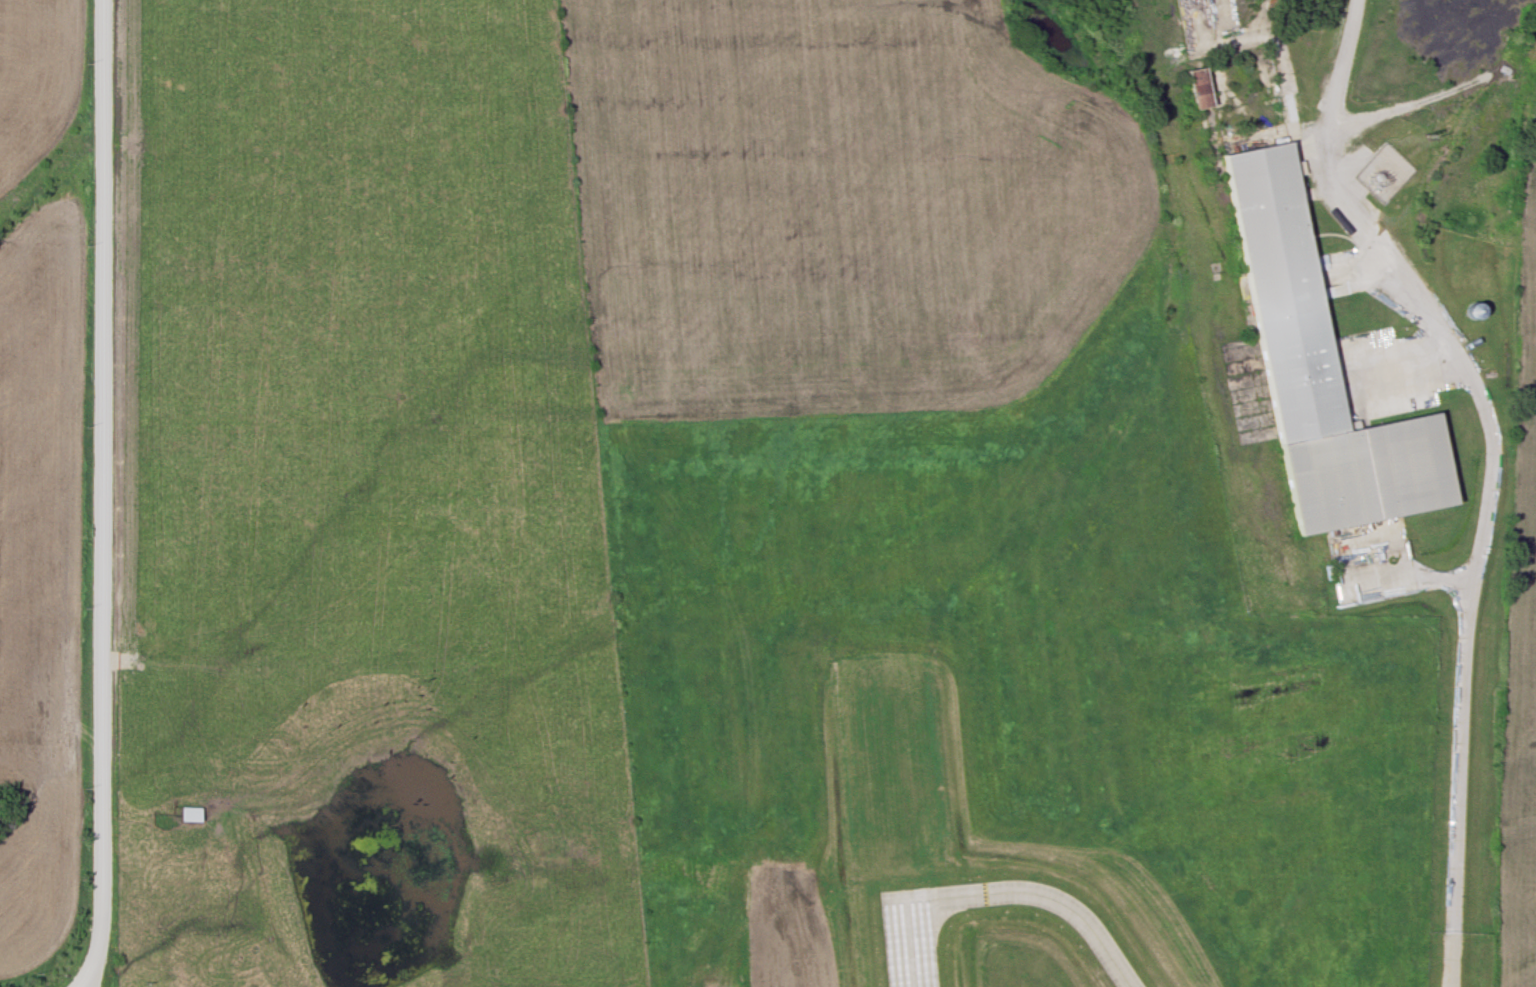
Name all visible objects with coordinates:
crop: (37, 80)
building: (1204, 89)
crop: (837, 207)
road: (1402, 292)
building: (1323, 367)
road: (105, 495)
airport: (950, 531)
crop: (39, 583)
crop: (1521, 631)
road: (1459, 784)
airport taxiway: (1040, 895)
crop: (792, 935)
airport runway: (914, 940)

